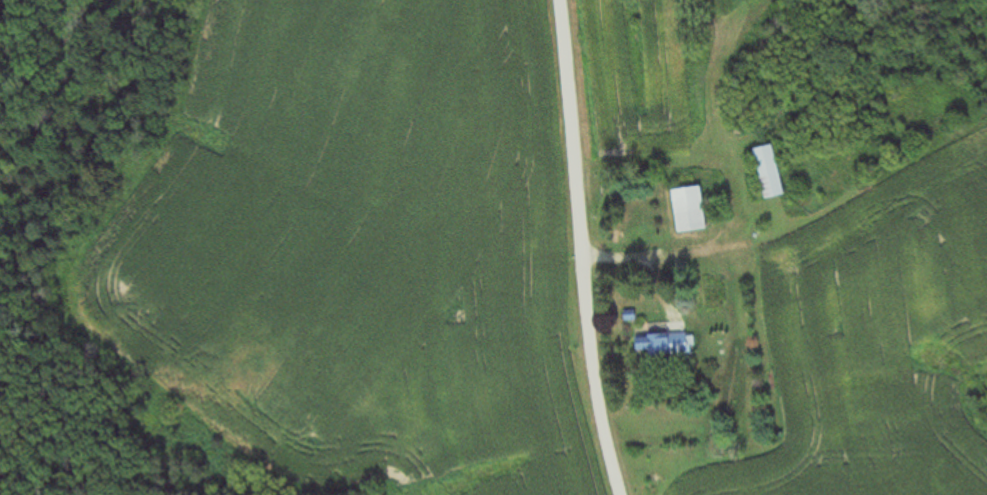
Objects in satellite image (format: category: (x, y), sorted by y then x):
building: (761, 172)
building: (683, 210)
road: (583, 248)
building: (660, 346)

